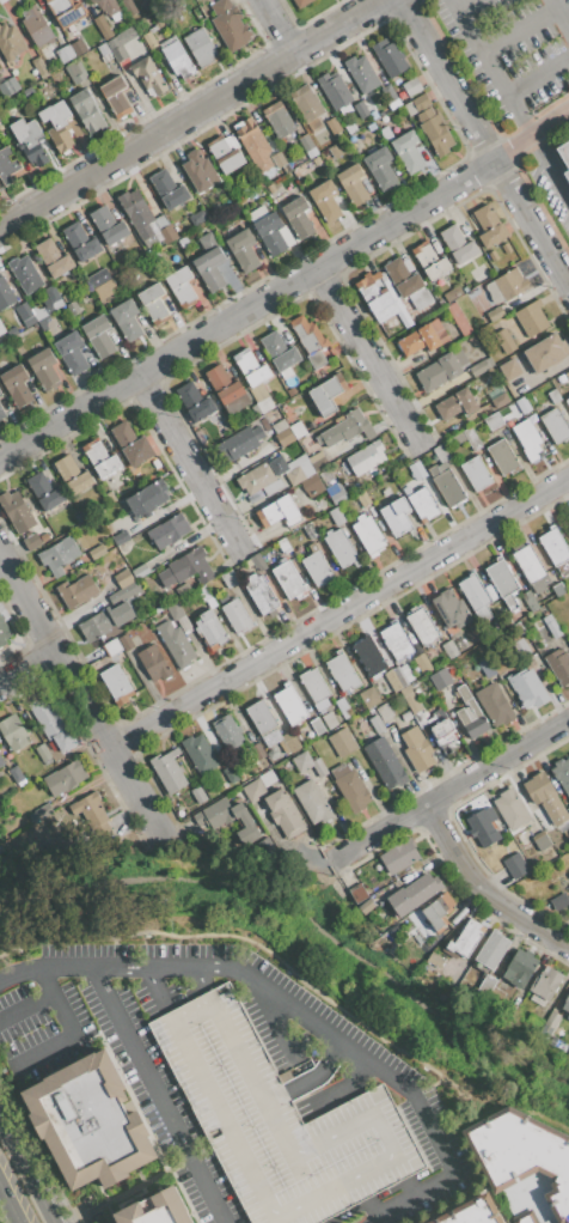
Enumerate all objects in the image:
road: (452, 1)
road: (455, 1)
building: (300, 2)
building: (106, 6)
building: (128, 7)
building: (67, 11)
road: (559, 12)
building: (230, 24)
building: (37, 26)
road: (276, 26)
building: (103, 29)
road: (520, 30)
building: (149, 39)
building: (11, 42)
building: (120, 44)
building: (78, 47)
building: (200, 48)
building: (103, 49)
road: (479, 49)
building: (65, 54)
building: (178, 59)
building: (391, 60)
building: (39, 67)
building: (75, 71)
building: (361, 73)
building: (148, 75)
road: (538, 75)
building: (8, 86)
building: (412, 86)
building: (334, 91)
building: (388, 93)
building: (116, 96)
building: (377, 97)
building: (306, 103)
building: (393, 103)
building: (417, 104)
building: (361, 109)
building: (87, 110)
road: (190, 114)
road: (520, 114)
building: (279, 120)
building: (57, 126)
building: (334, 126)
building: (350, 128)
building: (385, 130)
building: (434, 132)
road: (531, 135)
building: (29, 140)
building: (306, 142)
building: (253, 145)
road: (483, 145)
building: (336, 150)
building: (408, 151)
building: (227, 153)
building: (564, 157)
building: (279, 159)
building: (6, 165)
road: (551, 165)
building: (380, 168)
building: (200, 171)
building: (354, 184)
building: (169, 189)
building: (325, 200)
building: (137, 213)
building: (257, 214)
building: (298, 217)
building: (197, 218)
building: (109, 225)
building: (489, 226)
building: (270, 232)
building: (166, 233)
building: (81, 241)
building: (207, 242)
building: (457, 245)
building: (244, 249)
building: (53, 257)
building: (429, 261)
building: (210, 268)
building: (25, 274)
building: (97, 279)
building: (408, 282)
building: (510, 284)
building: (182, 286)
road: (568, 287)
building: (104, 288)
building: (453, 293)
building: (5, 294)
building: (381, 297)
building: (53, 300)
building: (154, 303)
building: (73, 306)
road: (246, 310)
building: (495, 314)
building: (25, 315)
building: (531, 317)
building: (126, 318)
building: (459, 320)
building: (98, 335)
building: (423, 337)
building: (504, 340)
building: (312, 342)
building: (280, 351)
building: (546, 352)
building: (72, 353)
road: (368, 358)
building: (481, 366)
building: (43, 367)
building: (251, 367)
building: (509, 369)
building: (441, 370)
building: (561, 378)
building: (17, 385)
building: (227, 389)
building: (0, 391)
building: (292, 391)
building: (328, 394)
building: (552, 395)
building: (195, 401)
building: (500, 401)
building: (568, 401)
building: (455, 404)
building: (524, 404)
building: (1, 414)
building: (494, 420)
building: (264, 424)
building: (280, 426)
building: (555, 426)
building: (345, 428)
building: (296, 430)
building: (284, 437)
building: (471, 438)
building: (528, 439)
building: (307, 442)
building: (240, 443)
building: (131, 444)
building: (441, 452)
building: (99, 457)
building: (366, 457)
building: (502, 457)
road: (188, 461)
building: (318, 461)
building: (293, 469)
building: (417, 470)
building: (476, 473)
building: (72, 474)
building: (256, 477)
building: (400, 482)
building: (446, 483)
building: (312, 485)
building: (44, 491)
building: (337, 492)
building: (111, 497)
building: (147, 498)
building: (362, 498)
building: (423, 504)
building: (35, 510)
building: (17, 511)
building: (277, 511)
building: (337, 516)
building: (396, 516)
building: (568, 517)
building: (169, 530)
building: (368, 534)
building: (43, 537)
building: (121, 539)
building: (31, 542)
building: (555, 546)
building: (341, 548)
building: (57, 555)
building: (257, 562)
building: (317, 567)
building: (186, 568)
building: (531, 568)
building: (140, 571)
building: (228, 578)
building: (123, 579)
building: (287, 579)
building: (503, 582)
building: (558, 589)
building: (77, 590)
building: (203, 592)
building: (261, 594)
building: (476, 596)
building: (530, 601)
building: (210, 602)
building: (449, 608)
road: (339, 611)
building: (179, 616)
building: (237, 616)
building: (502, 620)
building: (104, 621)
building: (551, 625)
building: (422, 627)
building: (210, 629)
building: (2, 632)
building: (126, 641)
building: (396, 641)
building: (175, 644)
building: (524, 646)
building: (112, 647)
building: (449, 649)
building: (93, 656)
building: (369, 656)
building: (153, 663)
building: (422, 663)
building: (558, 665)
building: (488, 667)
road: (27, 669)
building: (342, 671)
building: (92, 673)
building: (394, 679)
building: (440, 679)
building: (117, 683)
building: (314, 688)
building: (528, 688)
building: (369, 696)
road: (81, 698)
building: (411, 699)
building: (494, 704)
building: (290, 705)
building: (343, 707)
building: (385, 712)
building: (436, 712)
building: (470, 714)
building: (406, 716)
building: (329, 720)
building: (53, 722)
building: (263, 722)
building: (377, 724)
building: (317, 726)
building: (227, 730)
building: (12, 732)
building: (445, 736)
building: (292, 742)
building: (341, 742)
building: (416, 749)
building: (257, 750)
building: (200, 753)
building: (43, 754)
building: (273, 754)
building: (302, 761)
building: (1, 762)
building: (385, 763)
building: (319, 766)
building: (169, 771)
building: (562, 773)
building: (16, 774)
building: (232, 774)
building: (65, 778)
building: (268, 778)
building: (350, 787)
building: (539, 787)
building: (253, 790)
road: (449, 791)
building: (198, 793)
building: (312, 803)
building: (510, 809)
building: (568, 809)
building: (43, 810)
building: (91, 813)
building: (284, 814)
building: (216, 823)
building: (483, 826)
building: (521, 840)
building: (540, 840)
building: (268, 847)
building: (1, 850)
building: (552, 854)
building: (399, 857)
building: (515, 865)
building: (568, 866)
road: (484, 888)
building: (357, 893)
building: (414, 895)
building: (558, 901)
building: (366, 906)
building: (438, 911)
building: (466, 938)
building: (491, 949)
building: (520, 967)
road: (20, 973)
road: (201, 980)
building: (489, 980)
building: (545, 985)
road: (157, 990)
building: (565, 1004)
road: (27, 1008)
building: (551, 1020)
building: (533, 1021)
building: (545, 1032)
road: (72, 1034)
road: (343, 1046)
road: (143, 1072)
road: (316, 1072)
building: (276, 1120)
parking garage: (276, 1120)
building: (99, 1124)
building: (518, 1160)
road: (25, 1175)
road: (406, 1186)
building: (171, 1210)
building: (470, 1212)
road: (4, 1215)
road: (323, 1221)

